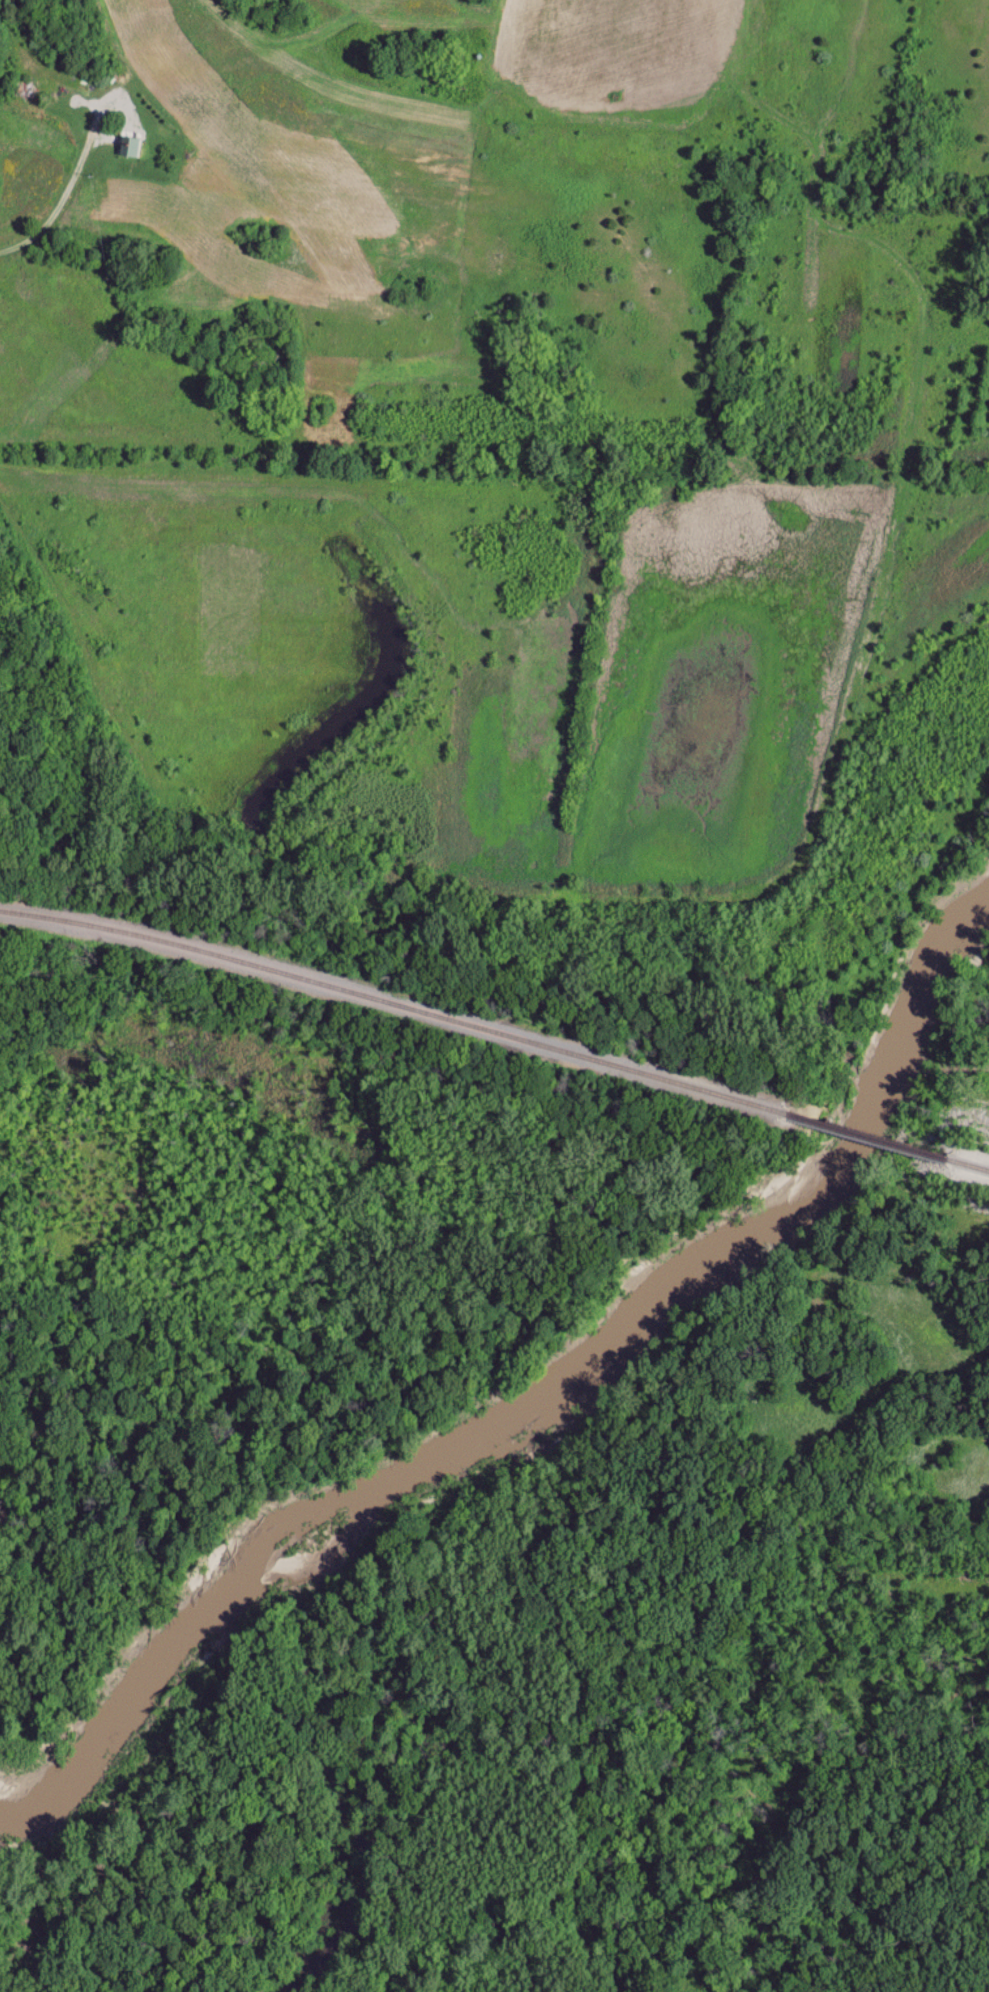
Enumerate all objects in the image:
building: (30, 92)
building: (130, 148)
road: (214, 157)
railway: (394, 1005)
railway: (873, 1139)
railway: (975, 1168)
river: (544, 1386)

